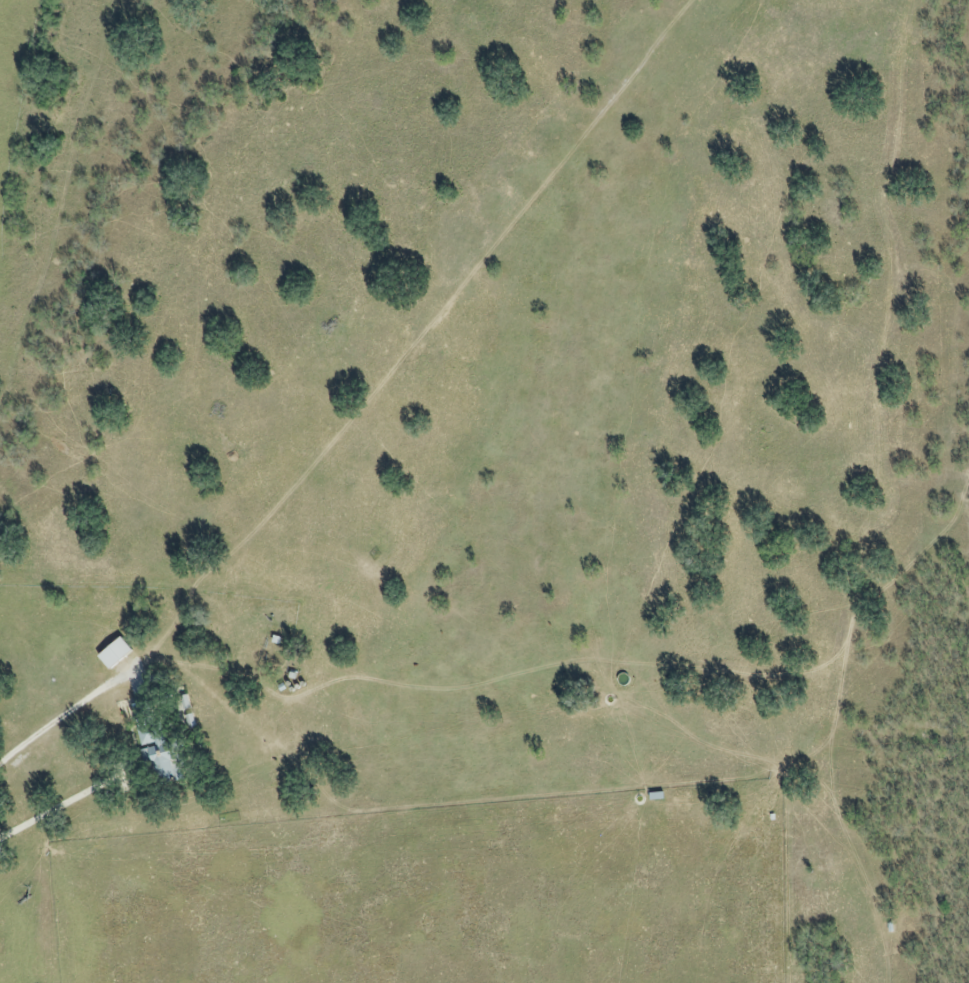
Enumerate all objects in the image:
road: (61, 716)
building: (156, 754)
road: (55, 807)

